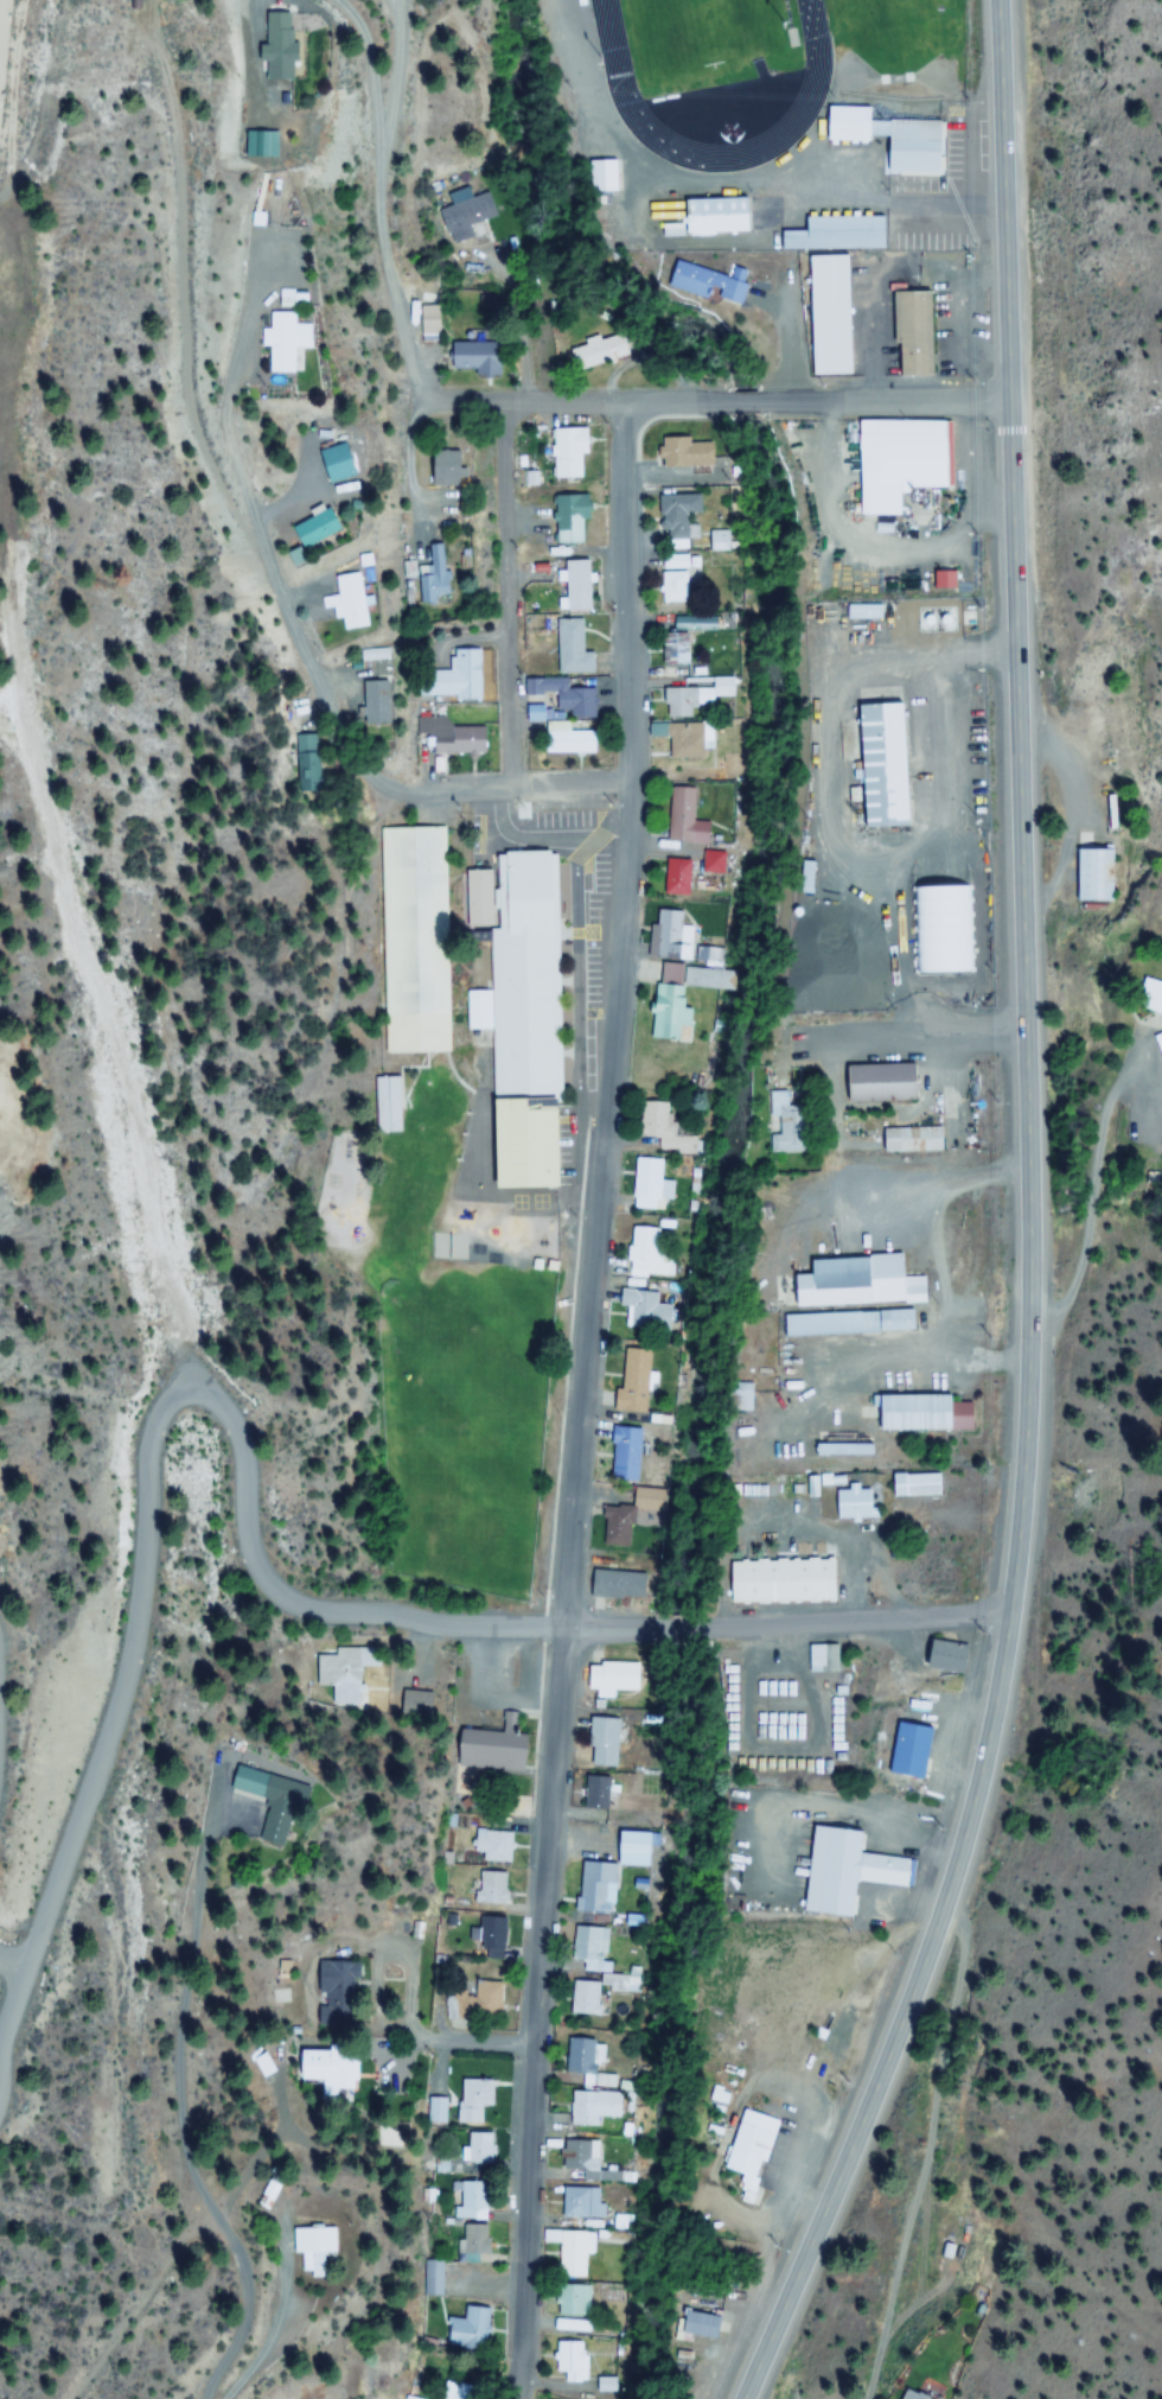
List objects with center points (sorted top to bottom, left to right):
park: (702, 36)
building: (274, 47)
track: (711, 70)
road: (396, 72)
building: (894, 128)
building: (606, 164)
road: (382, 190)
building: (717, 204)
building: (466, 216)
building: (837, 222)
building: (705, 282)
building: (286, 299)
building: (281, 343)
building: (911, 345)
building: (595, 351)
building: (472, 357)
road: (886, 389)
road: (575, 390)
road: (746, 390)
building: (568, 452)
building: (681, 453)
road: (414, 466)
building: (442, 469)
building: (332, 471)
building: (874, 486)
building: (569, 518)
building: (676, 520)
building: (314, 528)
building: (714, 540)
building: (435, 573)
building: (671, 580)
road: (511, 587)
building: (575, 587)
building: (350, 600)
building: (691, 623)
building: (570, 649)
building: (672, 649)
building: (454, 677)
building: (691, 695)
building: (564, 696)
building: (370, 702)
road: (330, 709)
building: (532, 713)
building: (447, 738)
building: (567, 739)
building: (678, 739)
building: (881, 765)
building: (681, 817)
building: (414, 877)
building: (672, 877)
building: (1087, 887)
building: (475, 896)
building: (666, 936)
building: (1145, 997)
building: (677, 1004)
building: (523, 1022)
building: (879, 1082)
building: (385, 1105)
building: (650, 1120)
building: (785, 1122)
building: (911, 1140)
building: (644, 1184)
road: (1033, 1222)
building: (645, 1253)
building: (855, 1283)
building: (640, 1309)
building: (847, 1323)
building: (628, 1382)
road: (581, 1394)
building: (738, 1398)
building: (922, 1413)
road: (160, 1427)
building: (620, 1455)
building: (915, 1484)
building: (853, 1502)
building: (614, 1525)
building: (780, 1582)
building: (613, 1585)
road: (786, 1628)
building: (941, 1655)
building: (341, 1667)
building: (608, 1675)
building: (599, 1741)
building: (489, 1748)
building: (905, 1749)
building: (589, 1790)
building: (268, 1802)
building: (492, 1845)
building: (871, 1869)
building: (606, 1872)
building: (490, 1888)
building: (483, 1935)
building: (588, 1947)
road: (11, 1965)
building: (345, 1977)
building: (583, 1998)
road: (11, 2000)
building: (474, 2002)
road: (492, 2040)
building: (581, 2057)
building: (317, 2066)
building: (472, 2099)
building: (589, 2106)
road: (190, 2131)
building: (743, 2139)
building: (478, 2147)
building: (577, 2156)
building: (468, 2200)
building: (576, 2201)
building: (468, 2241)
building: (311, 2248)
building: (567, 2250)
building: (695, 2324)
building: (465, 2327)
building: (580, 2335)
building: (453, 2391)
building: (410, 2398)

